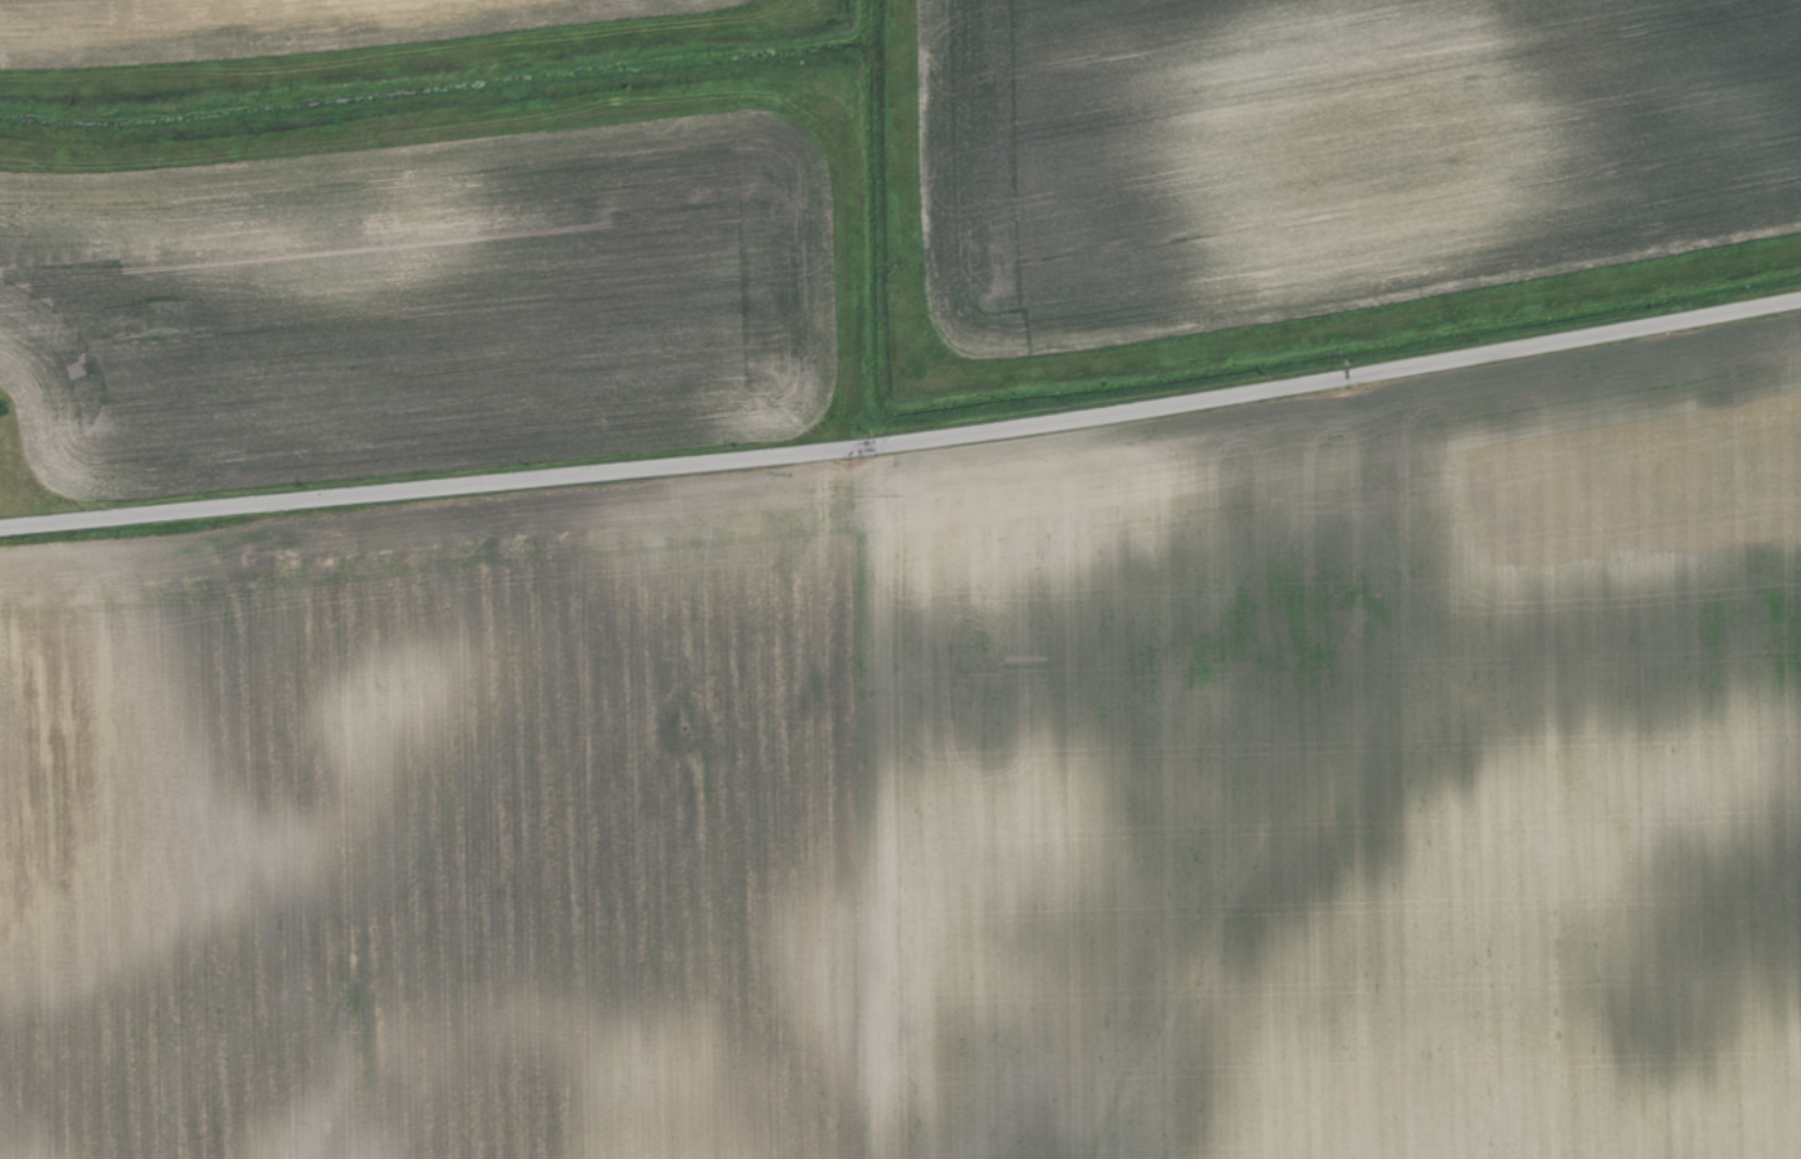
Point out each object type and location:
road: (903, 440)

